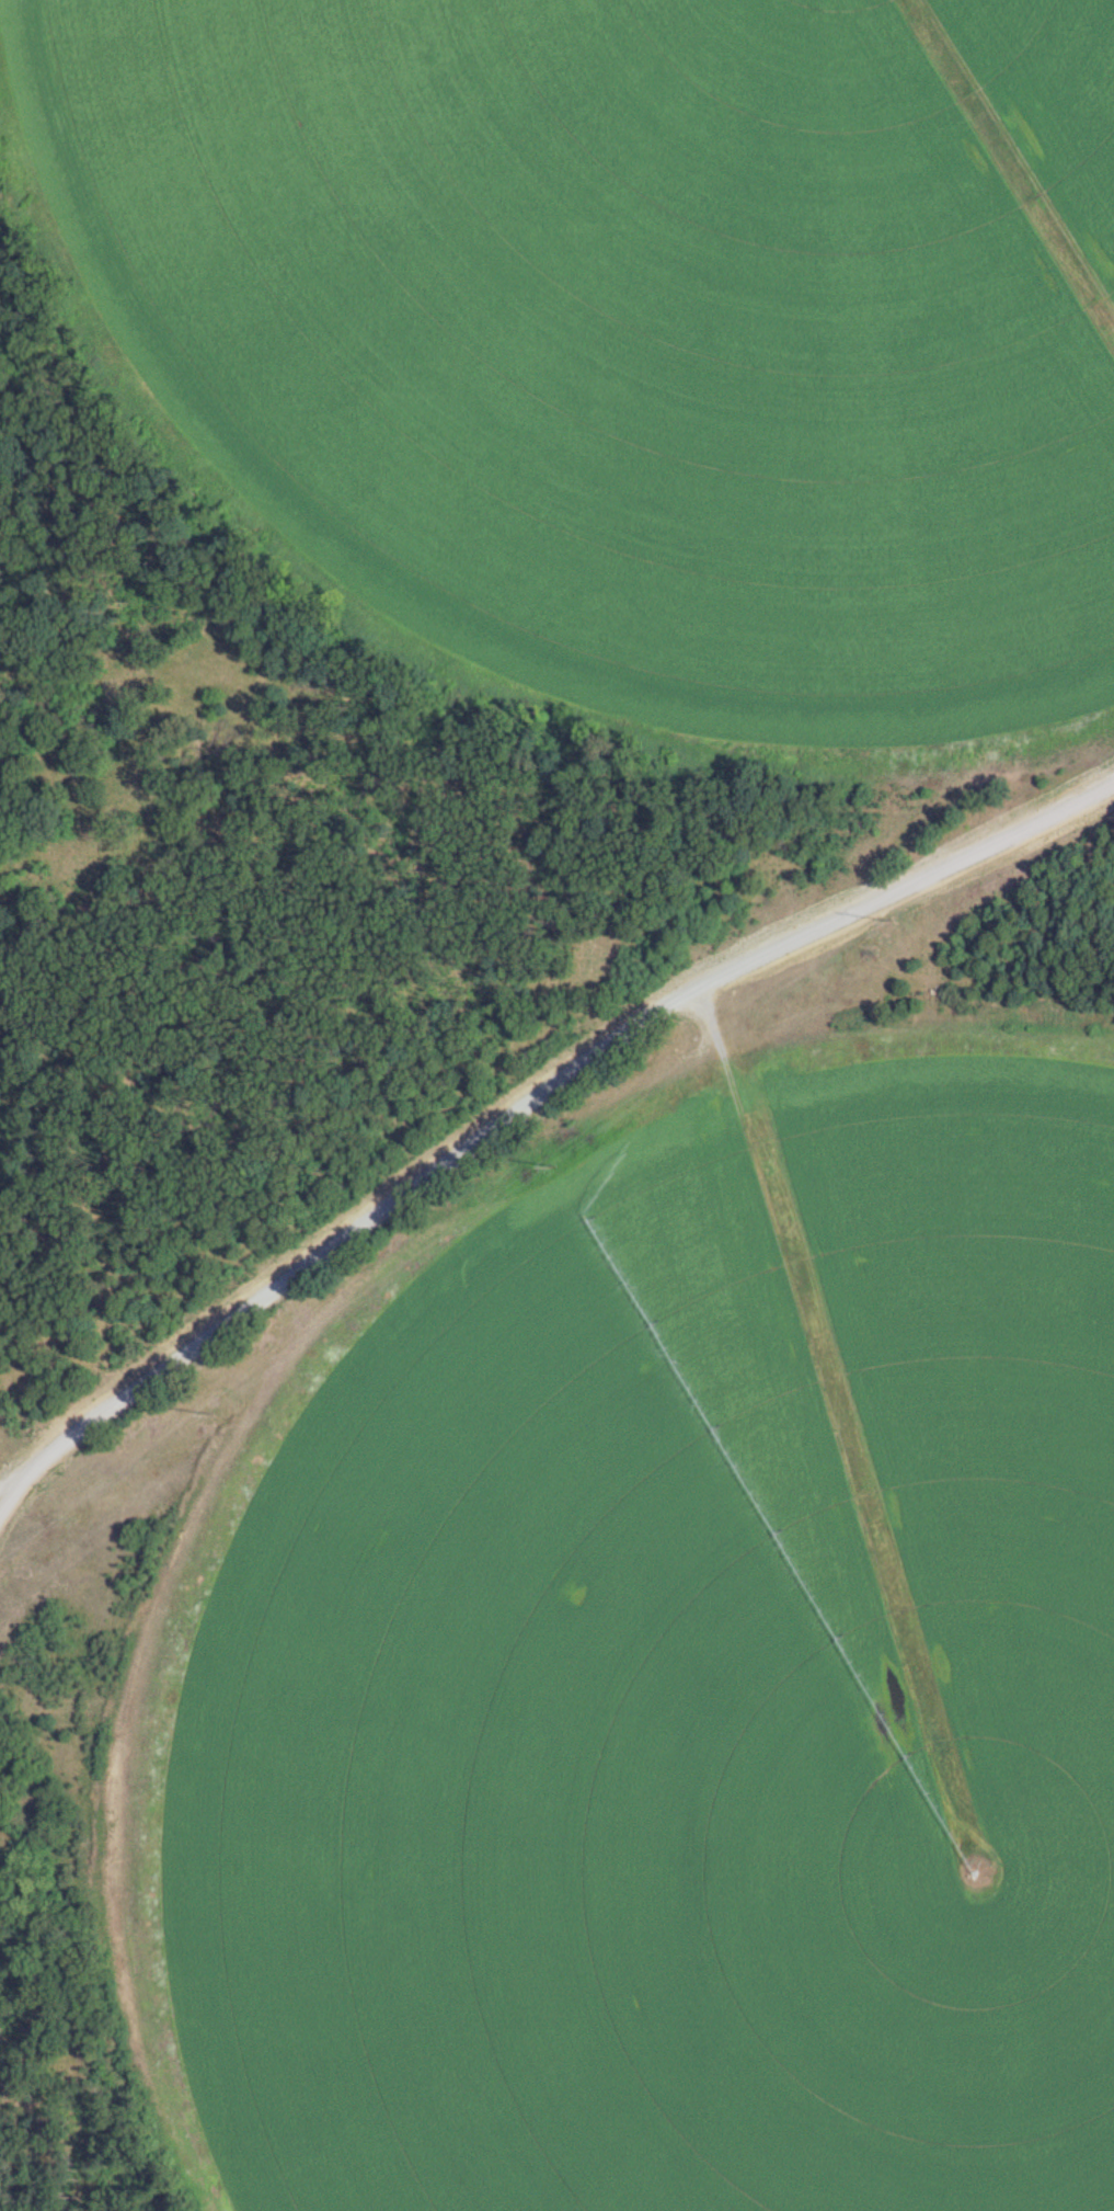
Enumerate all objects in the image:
road: (536, 1098)
wastewater plant: (556, 1105)
road: (18, 1489)

